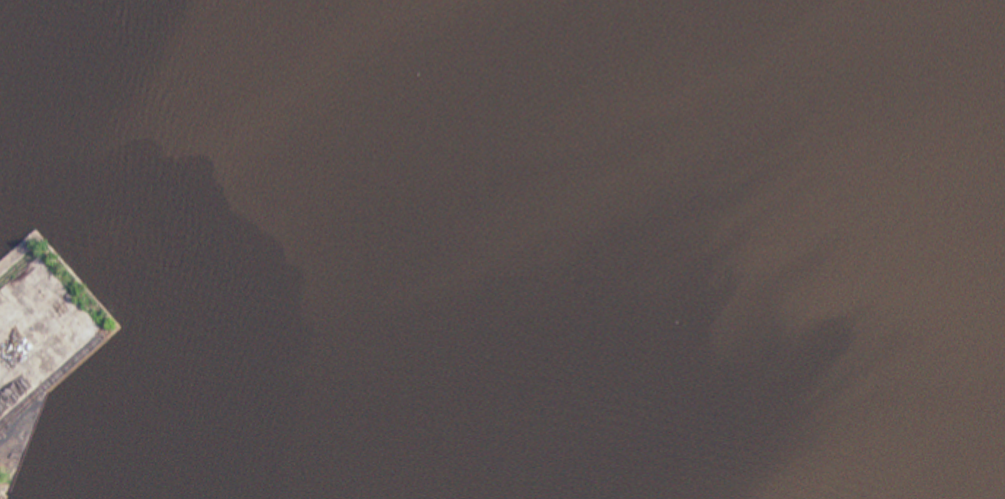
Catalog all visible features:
pier: (35, 344)
road: (9, 440)

